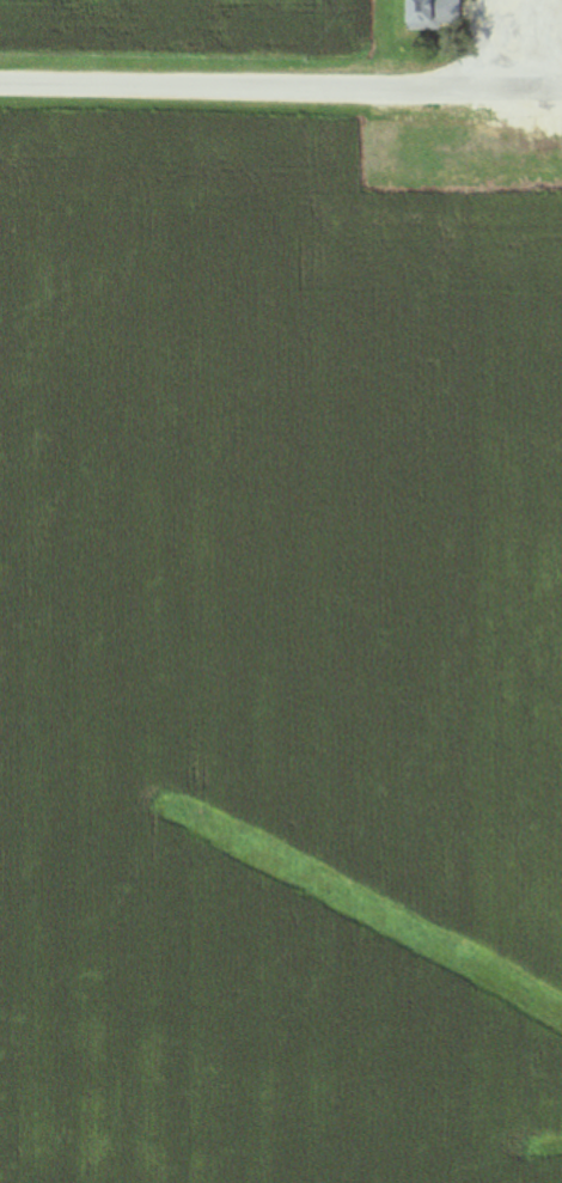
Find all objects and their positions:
building: (433, 13)
road: (277, 91)

